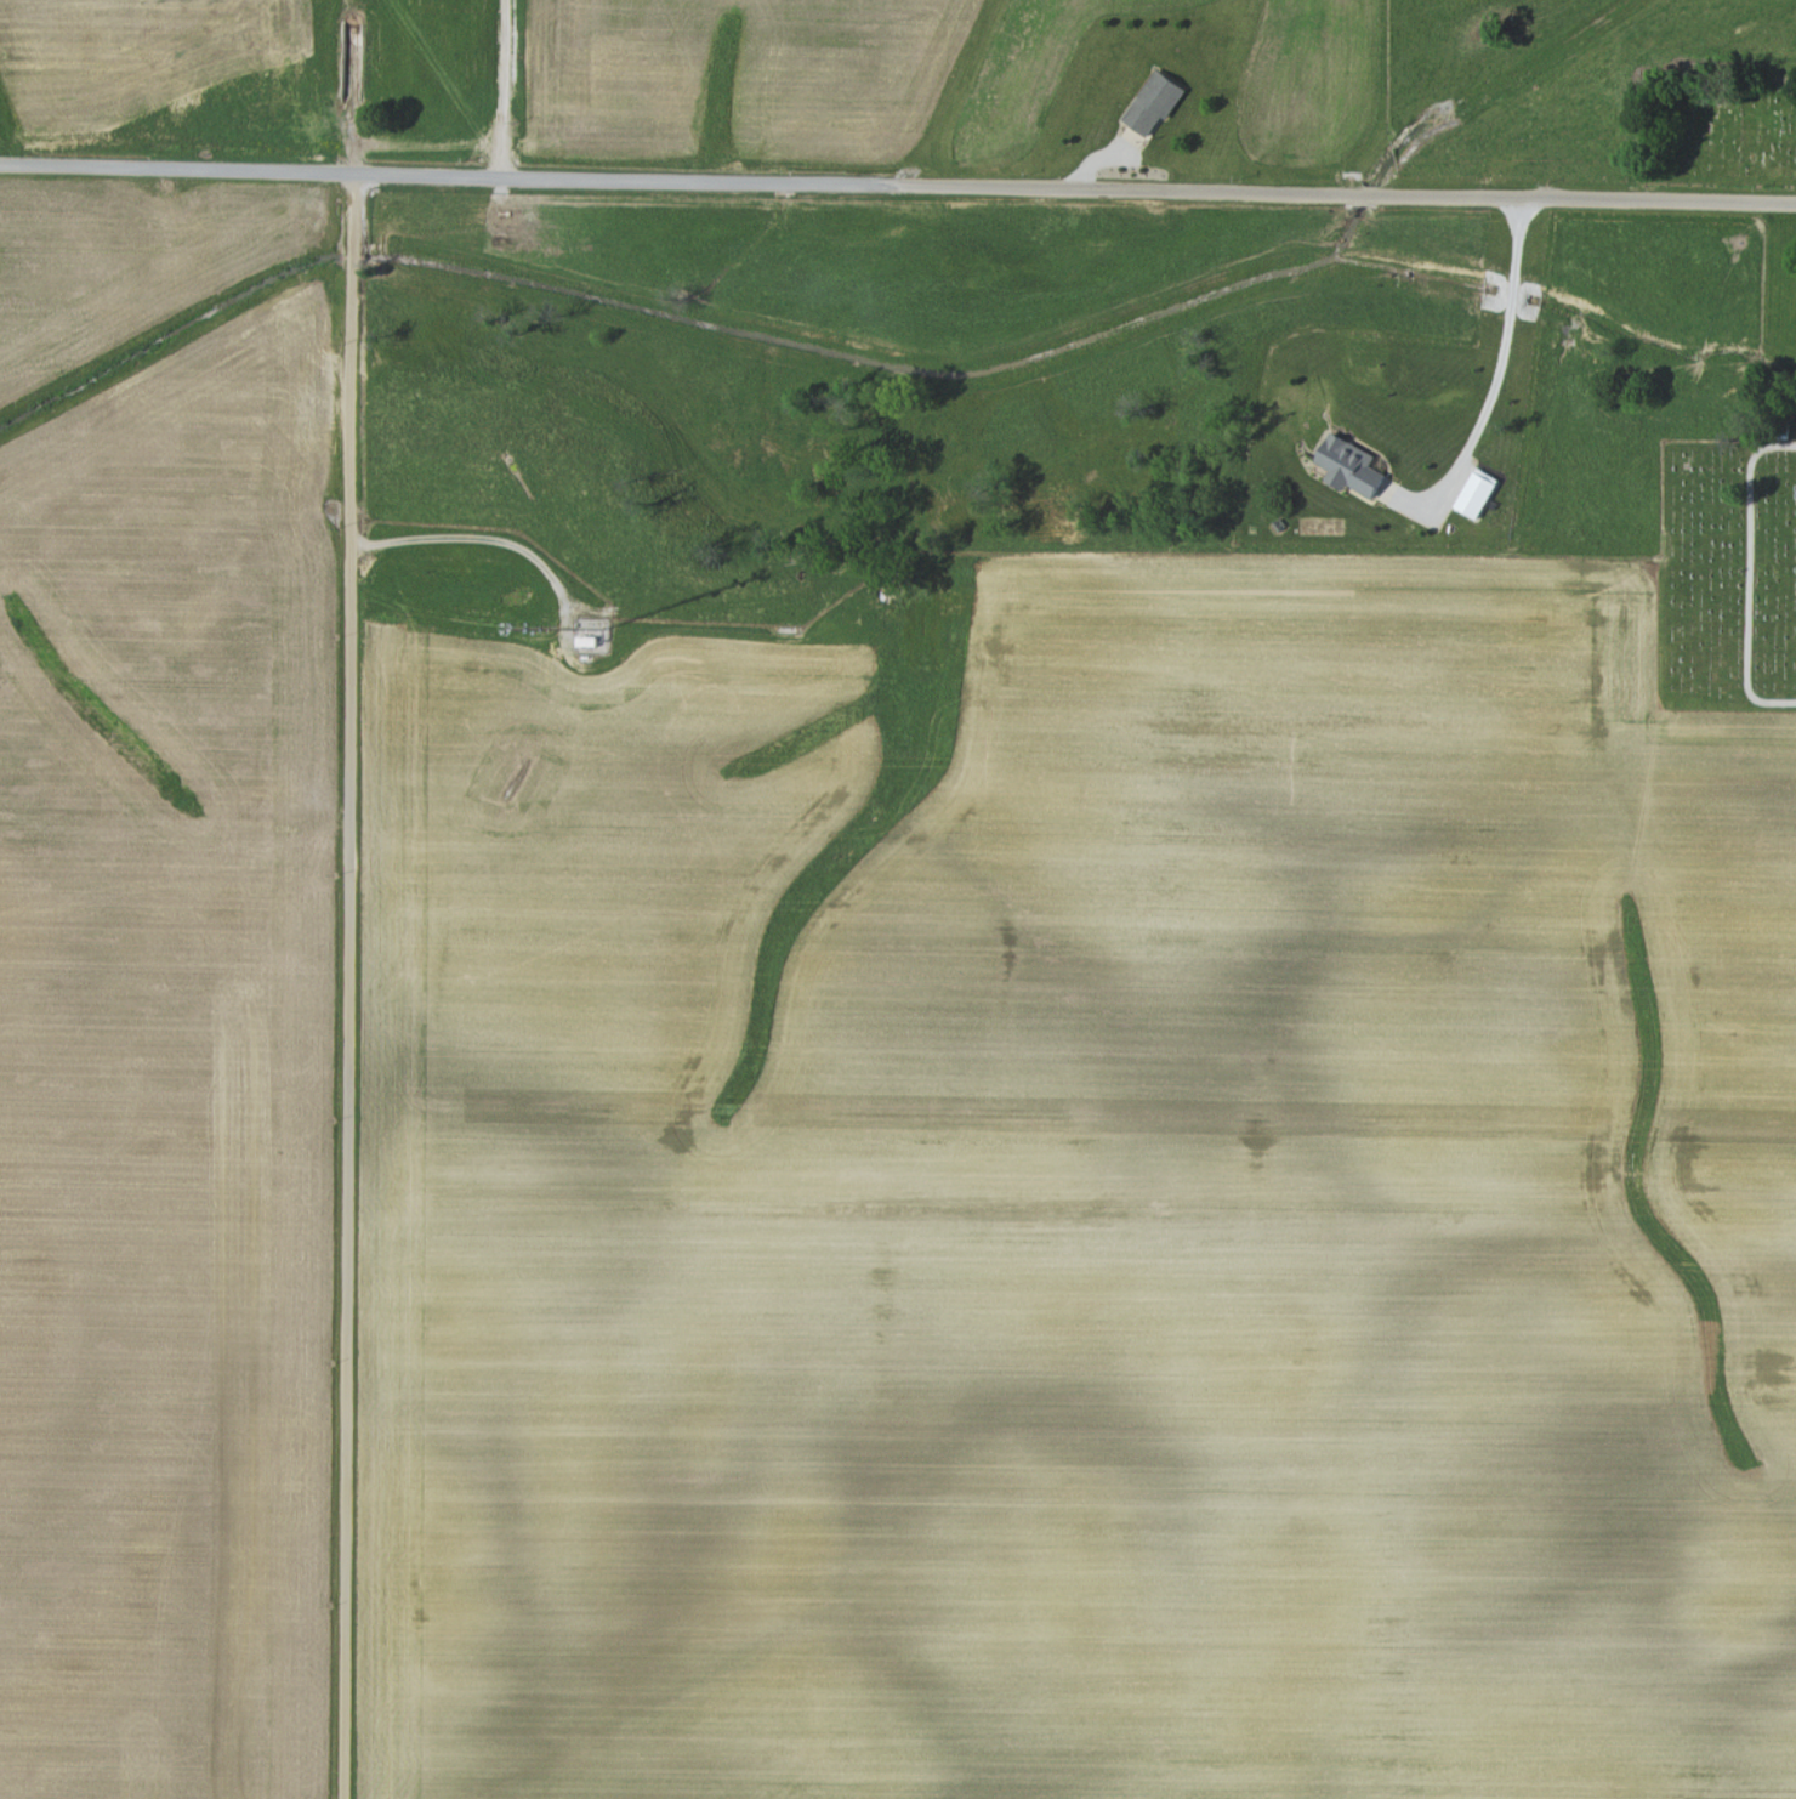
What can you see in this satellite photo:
road: (506, 89)
building: (1153, 102)
park: (1718, 129)
road: (455, 177)
road: (1353, 193)
road: (1499, 381)
building: (1348, 462)
building: (1474, 493)
road: (494, 539)
park: (1734, 539)
road: (352, 987)

